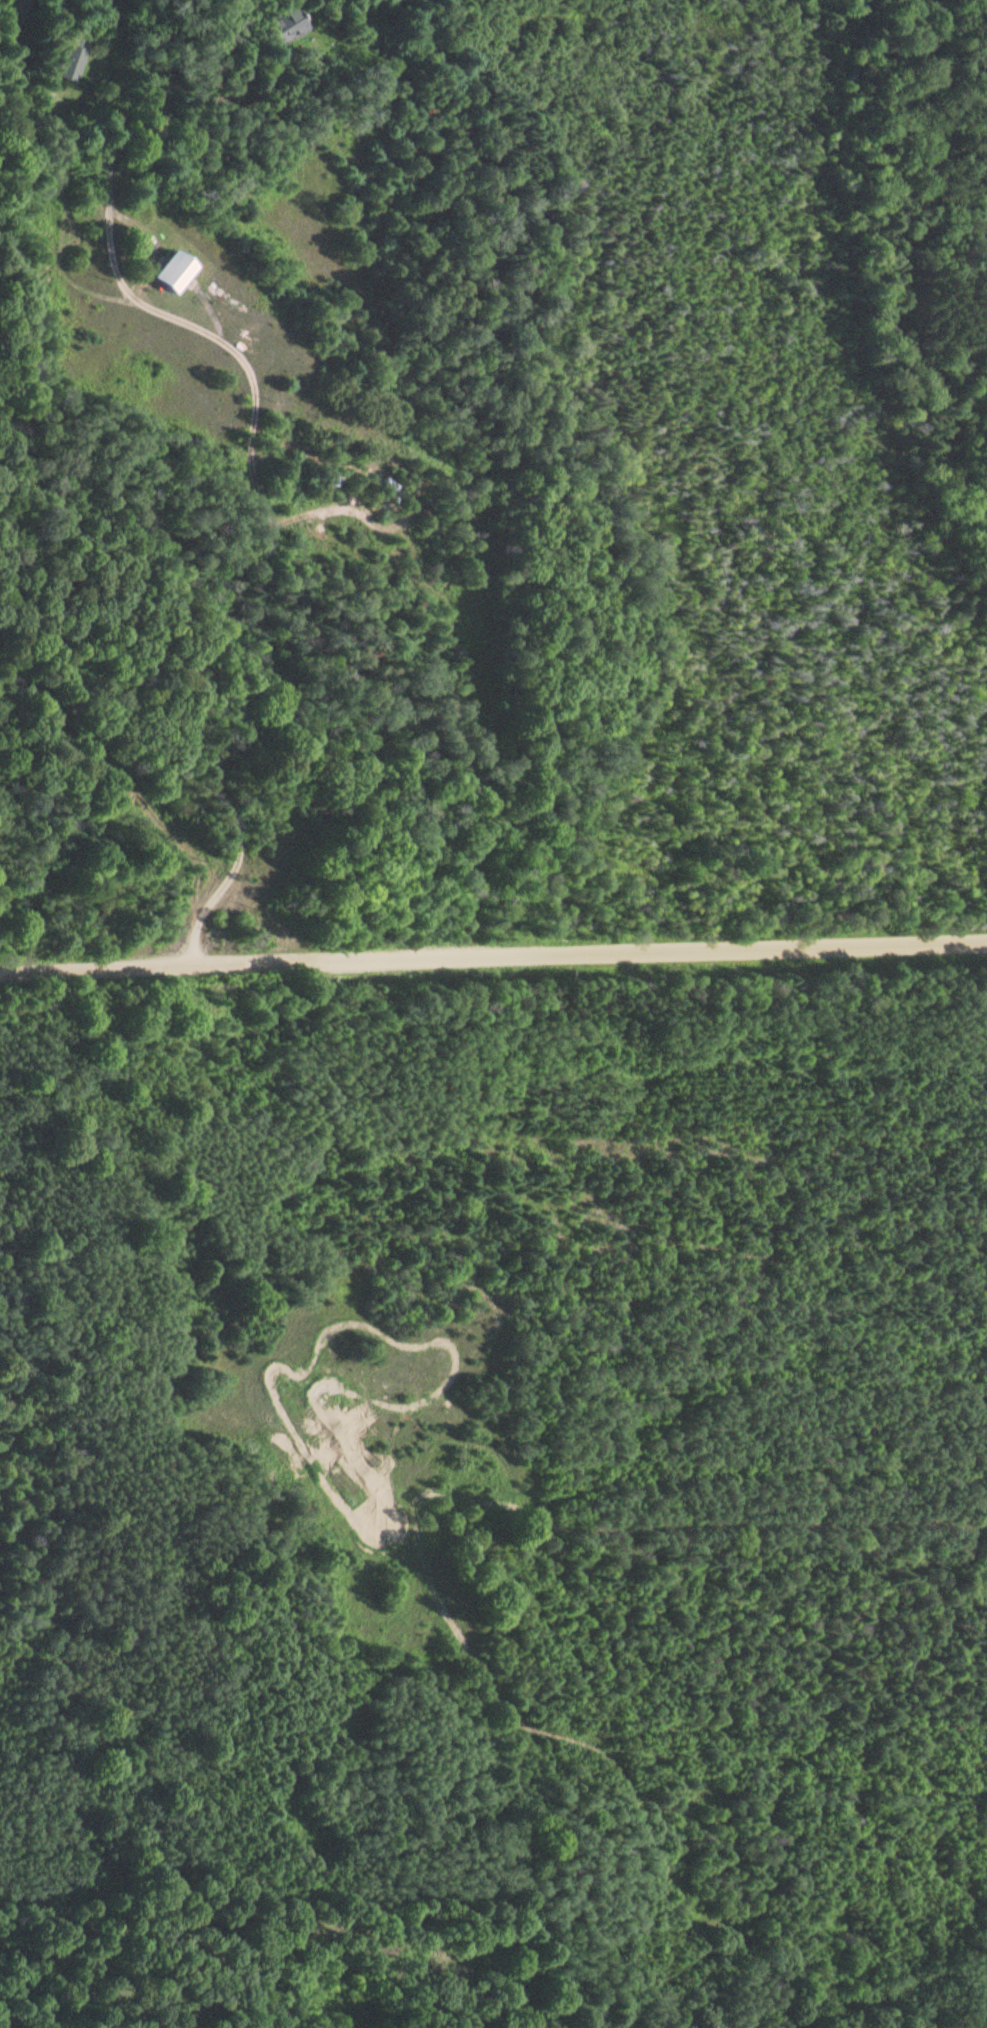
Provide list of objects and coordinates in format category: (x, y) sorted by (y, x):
building: (20, 8)
building: (292, 23)
building: (74, 58)
road: (59, 112)
building: (173, 269)
road: (271, 525)
road: (51, 794)
road: (493, 954)

